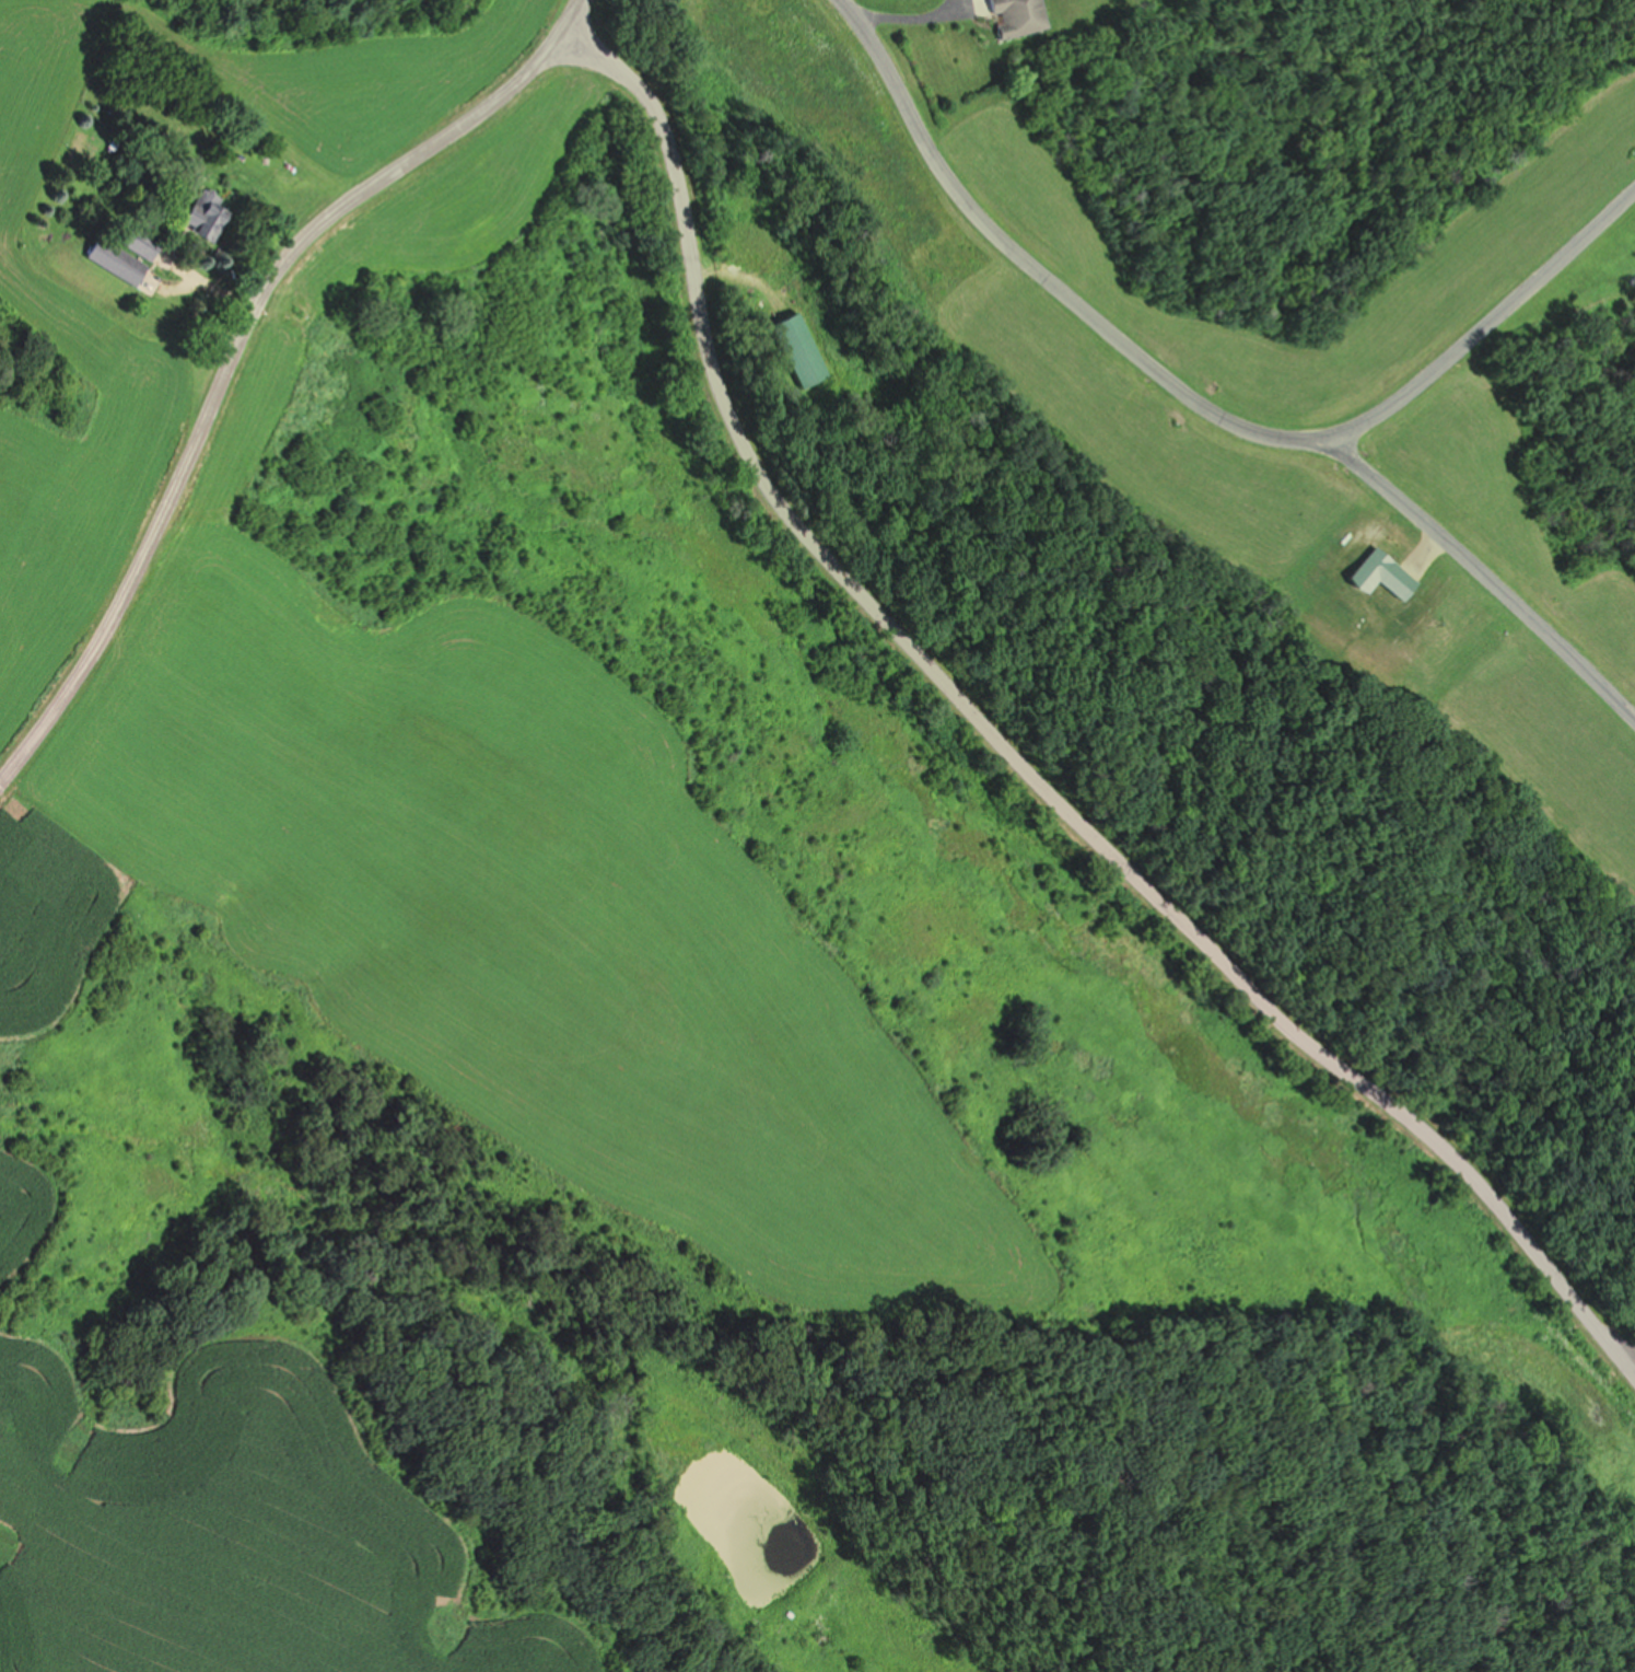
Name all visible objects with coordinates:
building: (1015, 16)
building: (203, 216)
building: (139, 242)
building: (113, 259)
road: (218, 301)
building: (792, 349)
road: (247, 356)
building: (278, 372)
road: (1194, 402)
road: (1483, 578)
road: (1011, 753)

